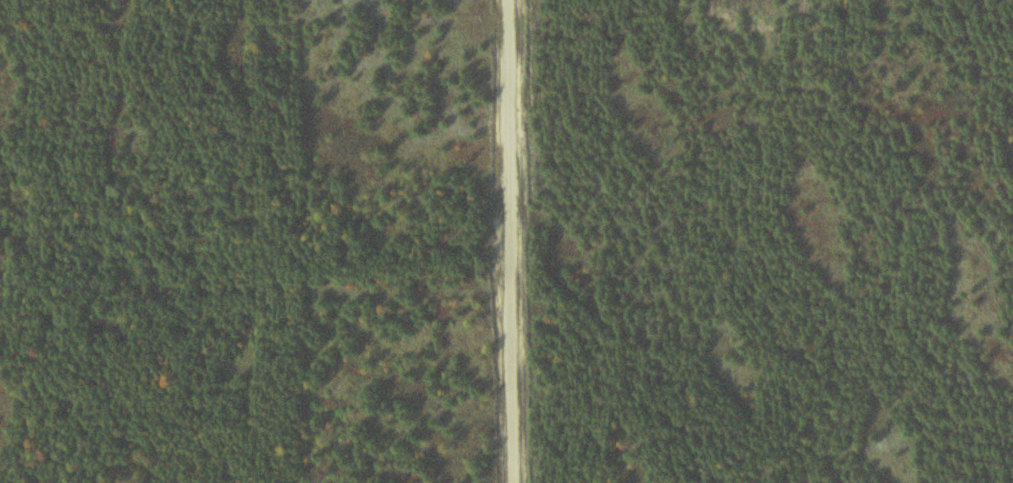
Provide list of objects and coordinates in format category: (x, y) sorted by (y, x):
road: (513, 241)

